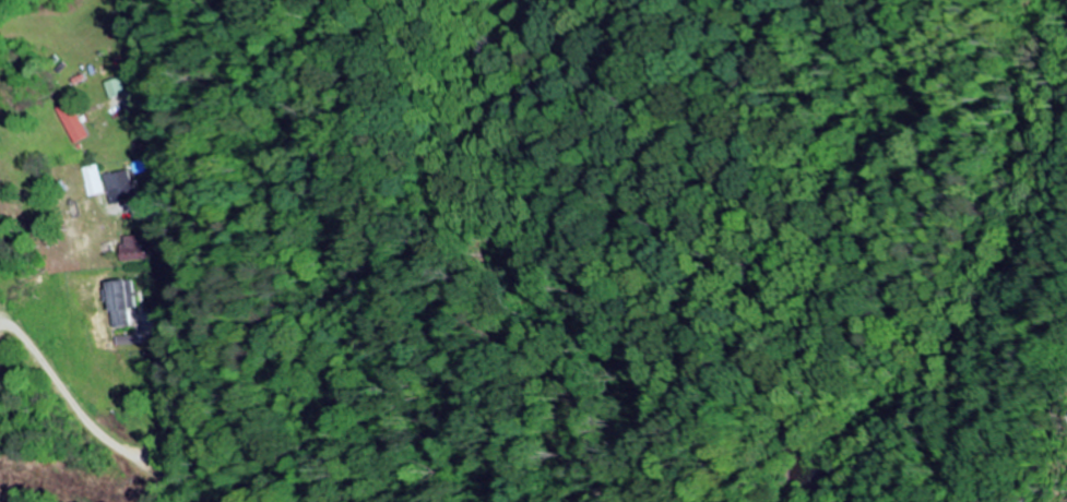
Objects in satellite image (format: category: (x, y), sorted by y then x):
building: (120, 89)
building: (75, 123)
building: (114, 187)
building: (140, 248)
road: (224, 255)
building: (125, 304)

